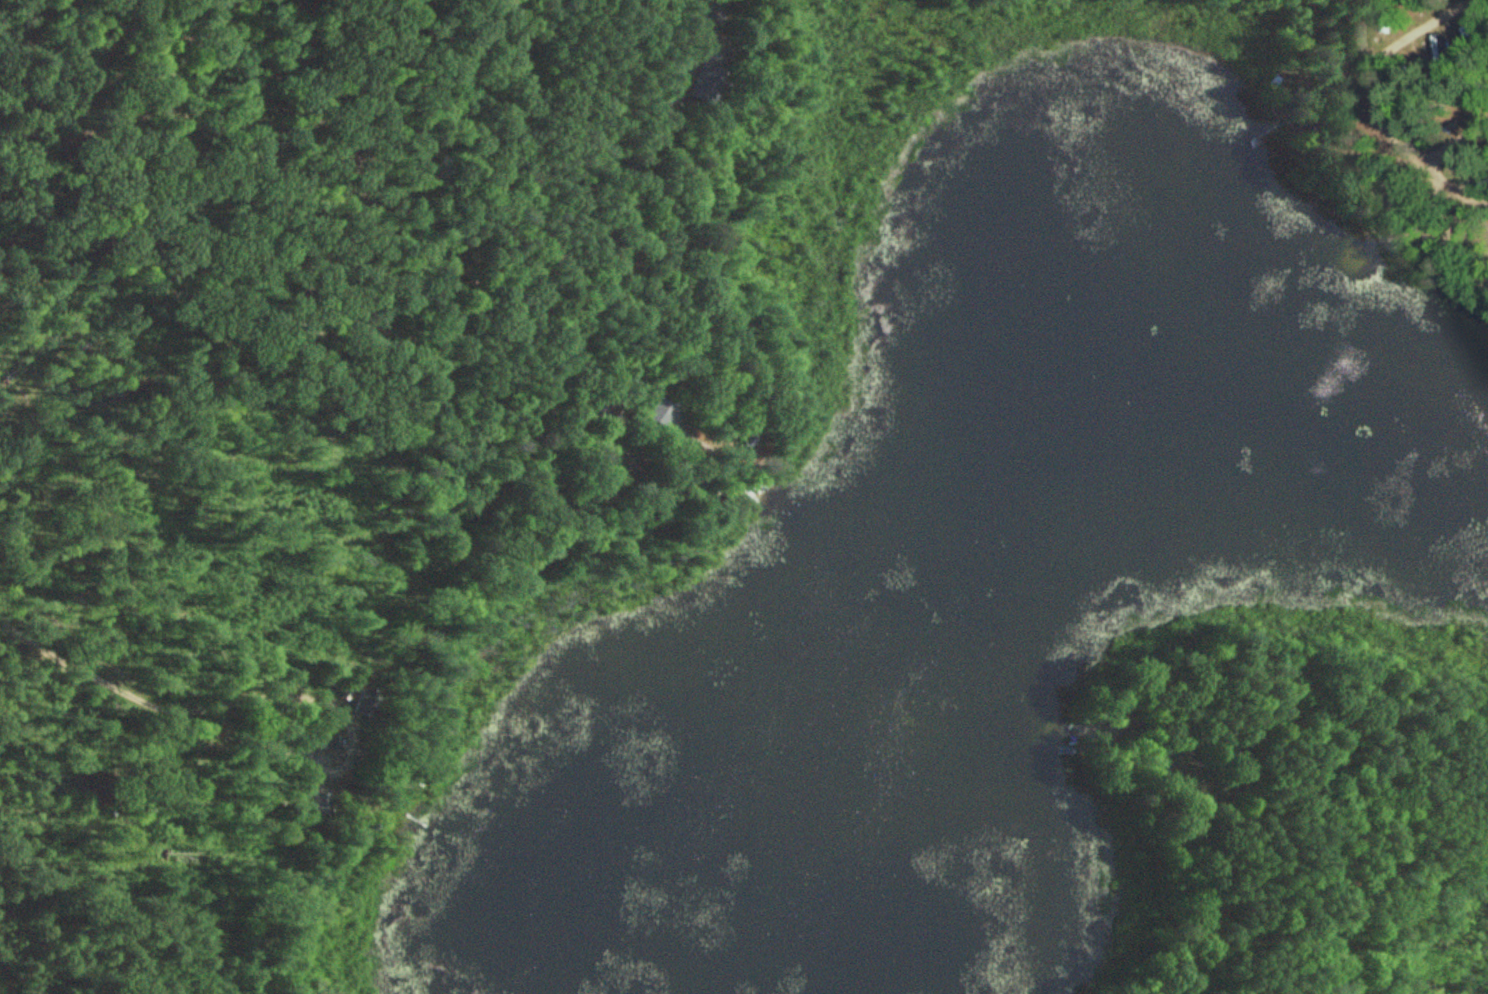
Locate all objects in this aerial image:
road: (1385, 73)
building: (708, 76)
building: (369, 705)
road: (164, 719)

